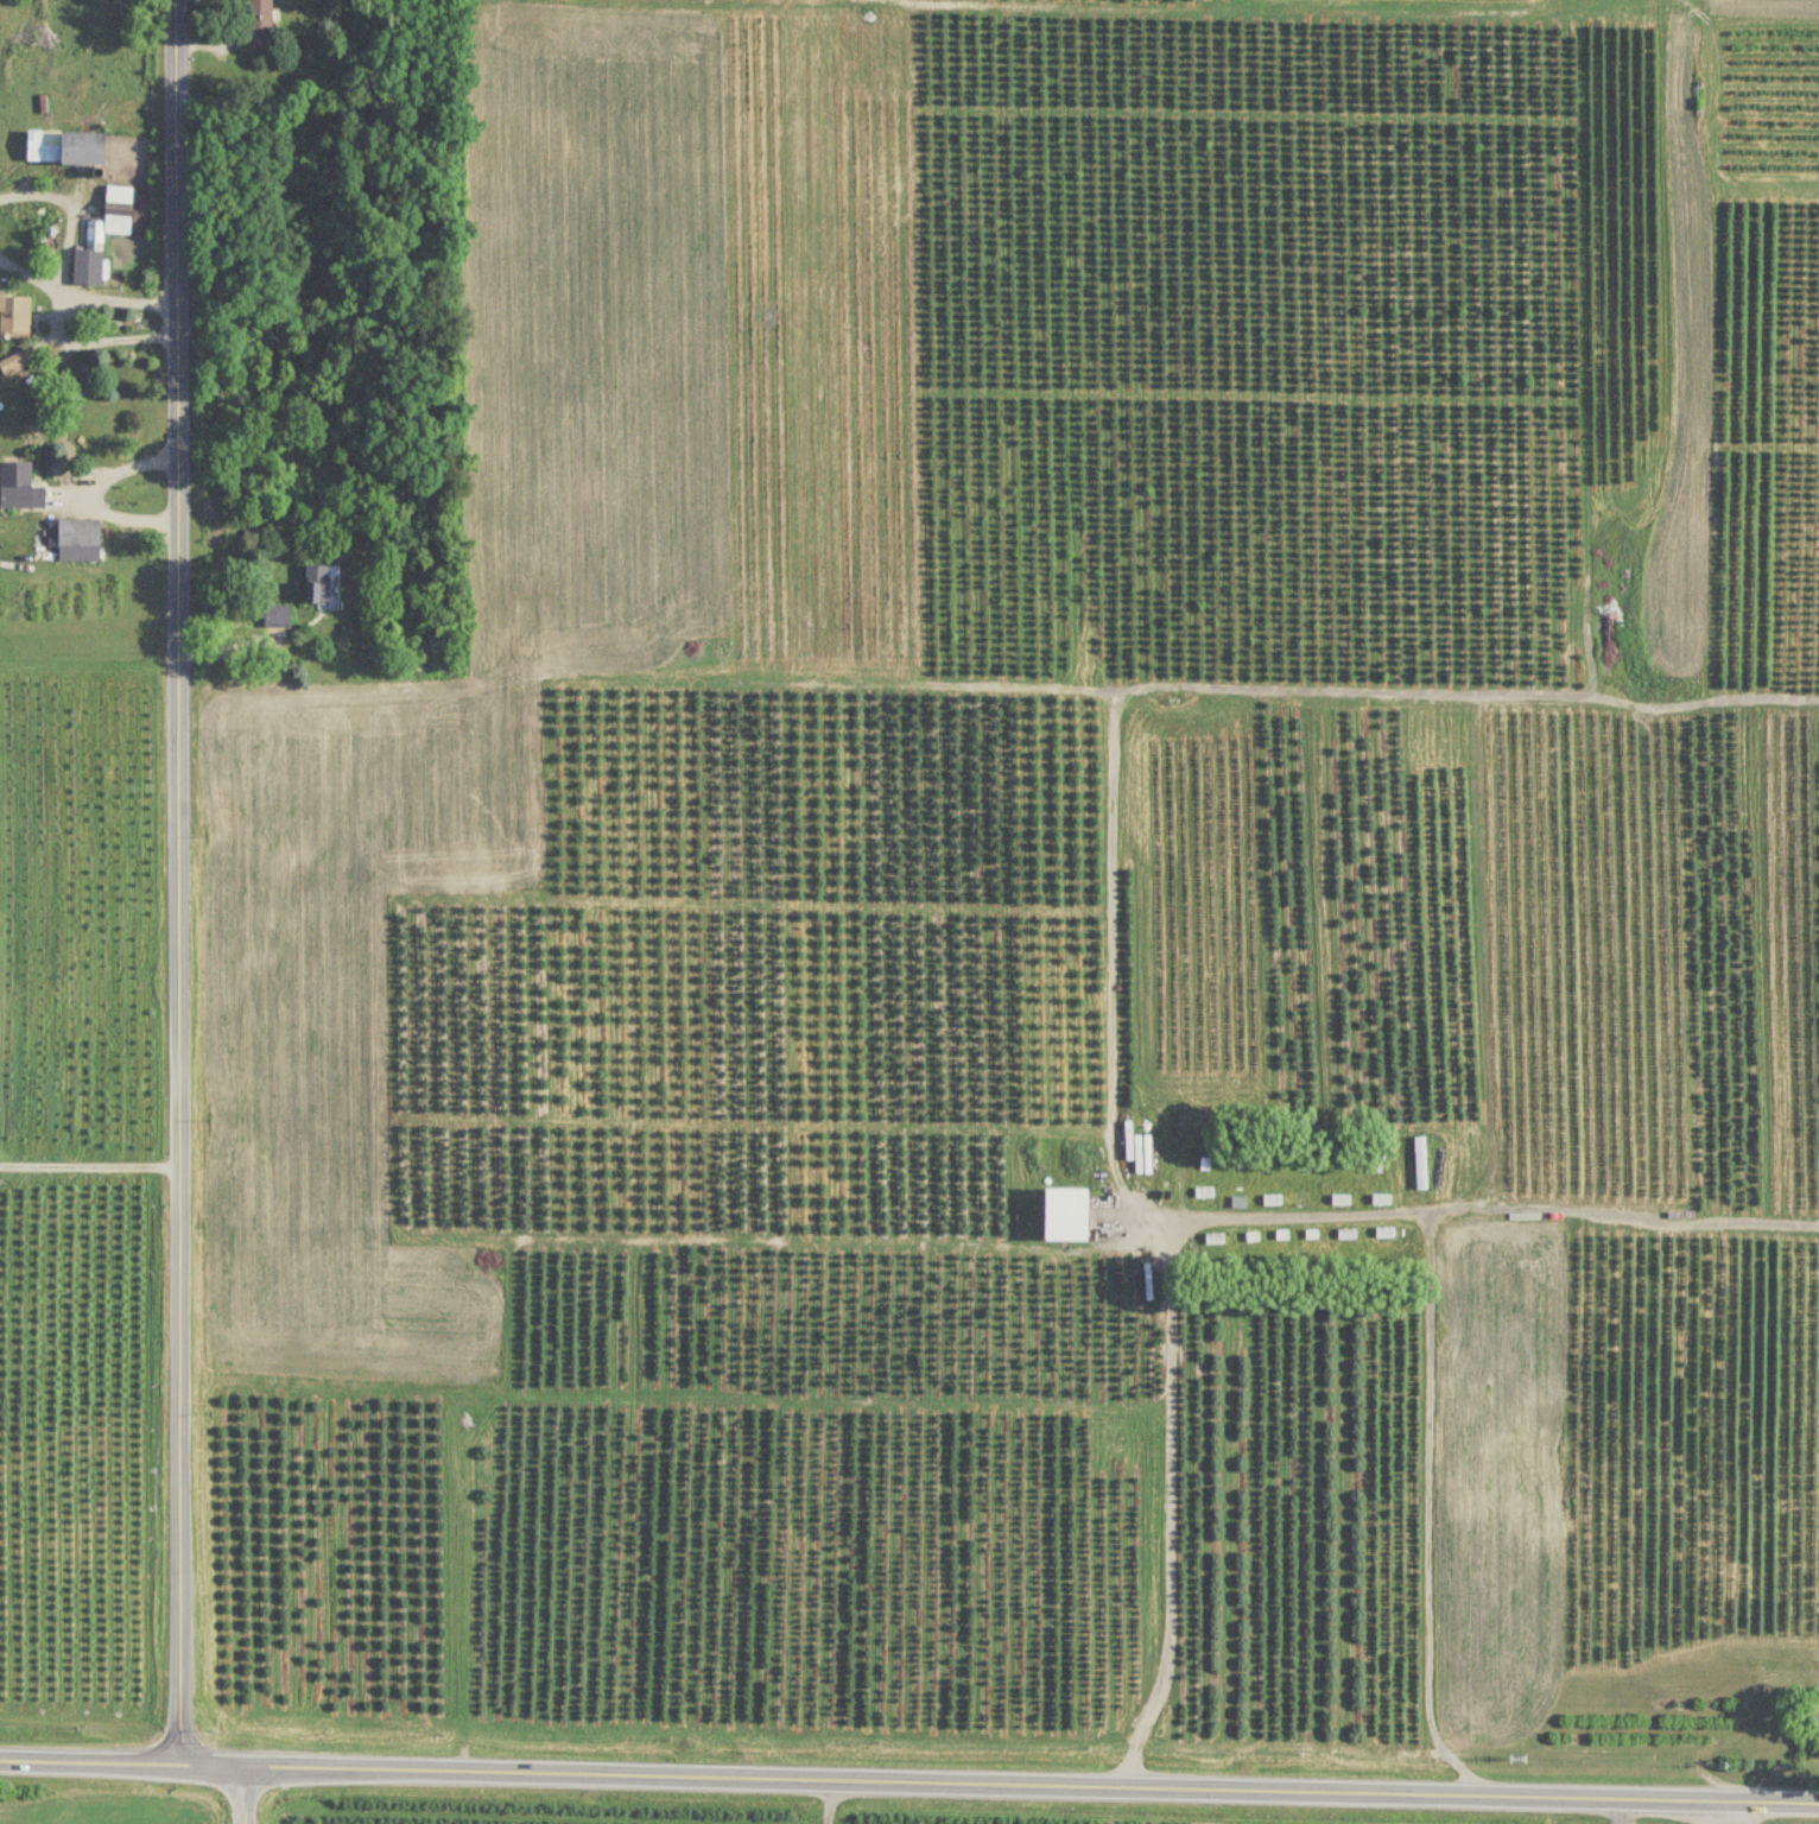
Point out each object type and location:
building: (261, 23)
building: (68, 148)
building: (103, 236)
road: (36, 278)
building: (14, 317)
road: (57, 323)
building: (15, 366)
building: (20, 486)
road: (90, 492)
building: (75, 532)
building: (323, 585)
building: (278, 616)
road: (241, 645)
road: (178, 882)
building: (1421, 1164)
road: (89, 1166)
building: (1386, 1235)
road: (1426, 1383)
road: (1168, 1463)
road: (909, 1781)
road: (243, 1795)
road: (1742, 1812)

